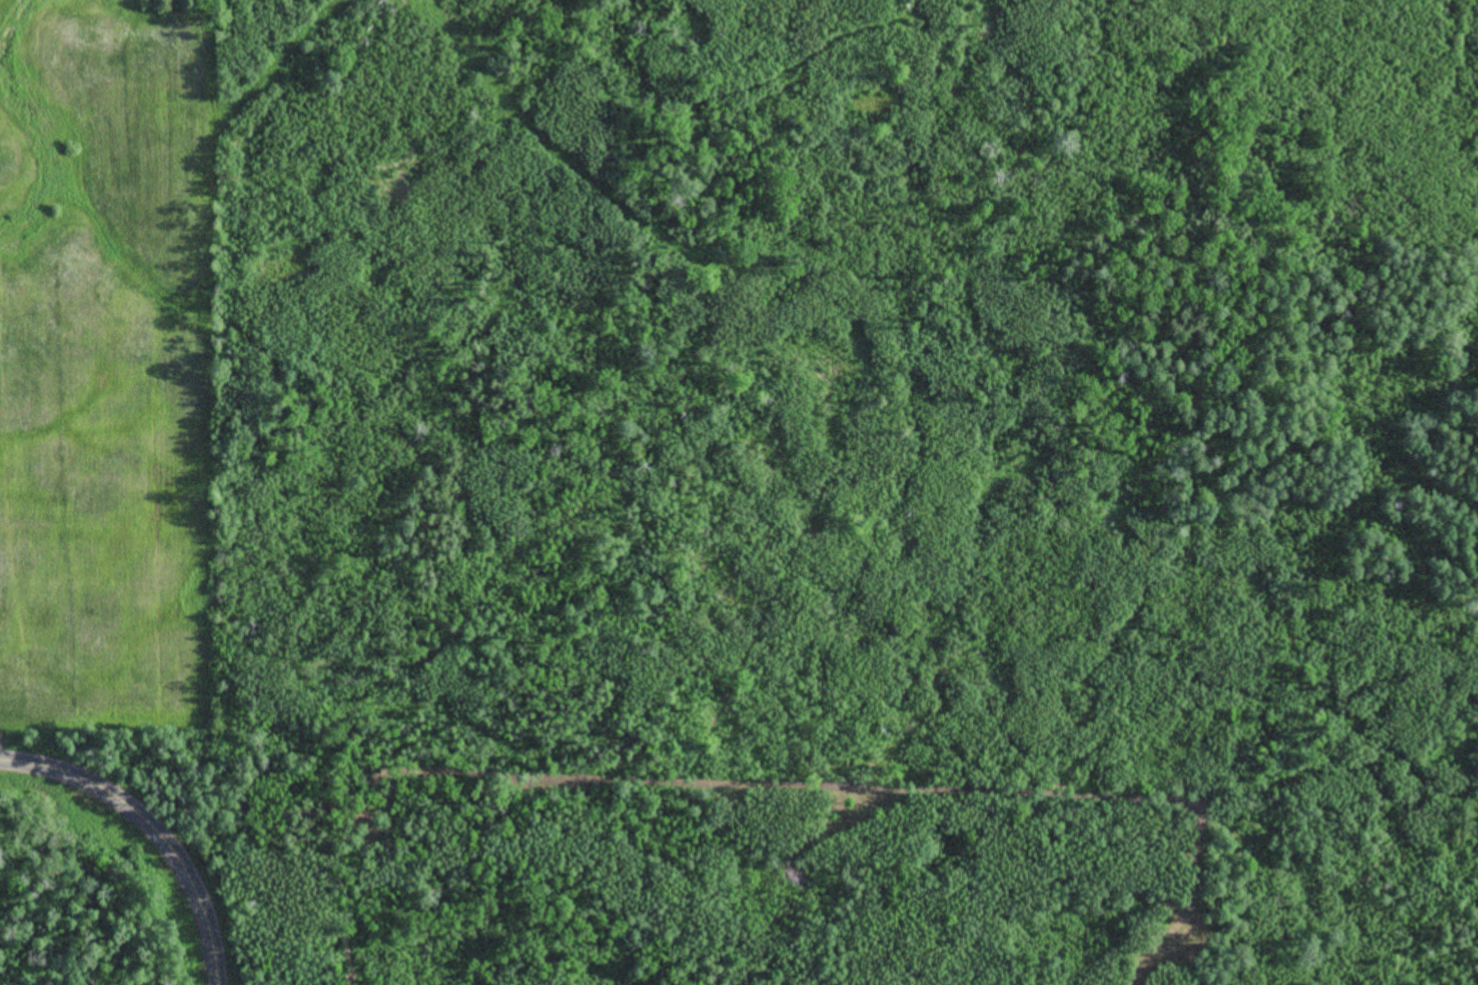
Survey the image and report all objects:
road: (162, 821)

